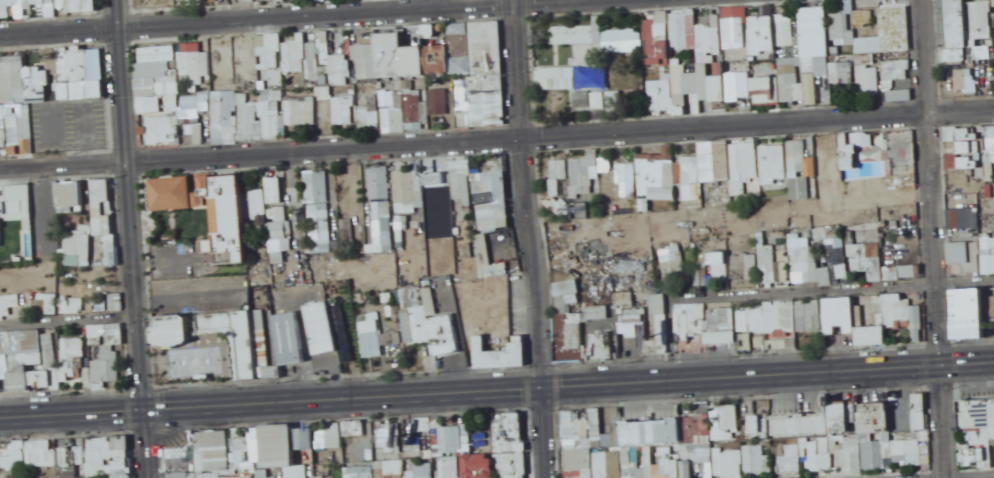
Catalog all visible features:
road: (130, 205)
road: (530, 238)
road: (934, 239)

